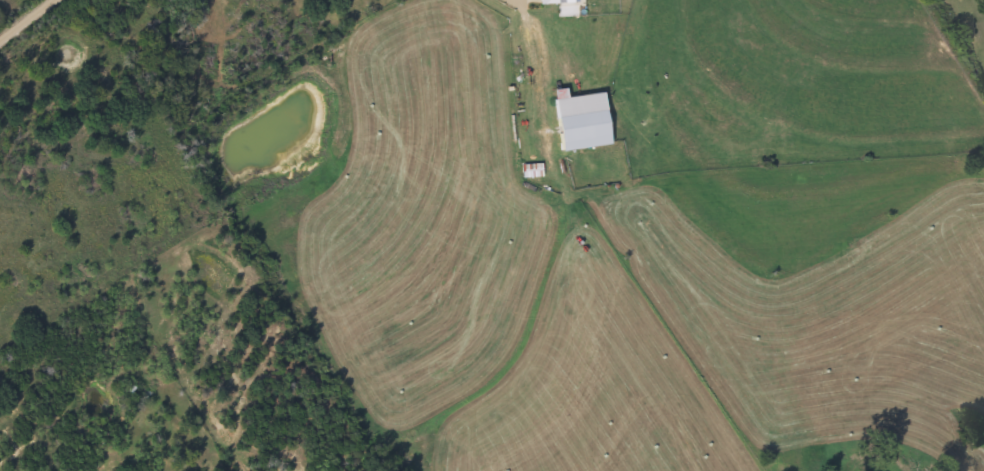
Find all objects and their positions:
building: (545, 2)
road: (32, 18)
building: (577, 122)

